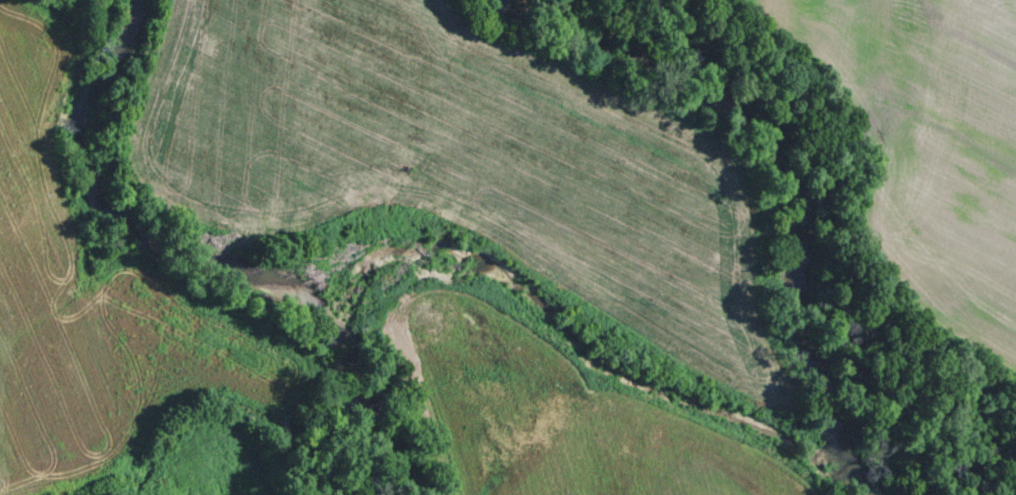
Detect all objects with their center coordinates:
river: (791, 180)
river: (212, 249)

